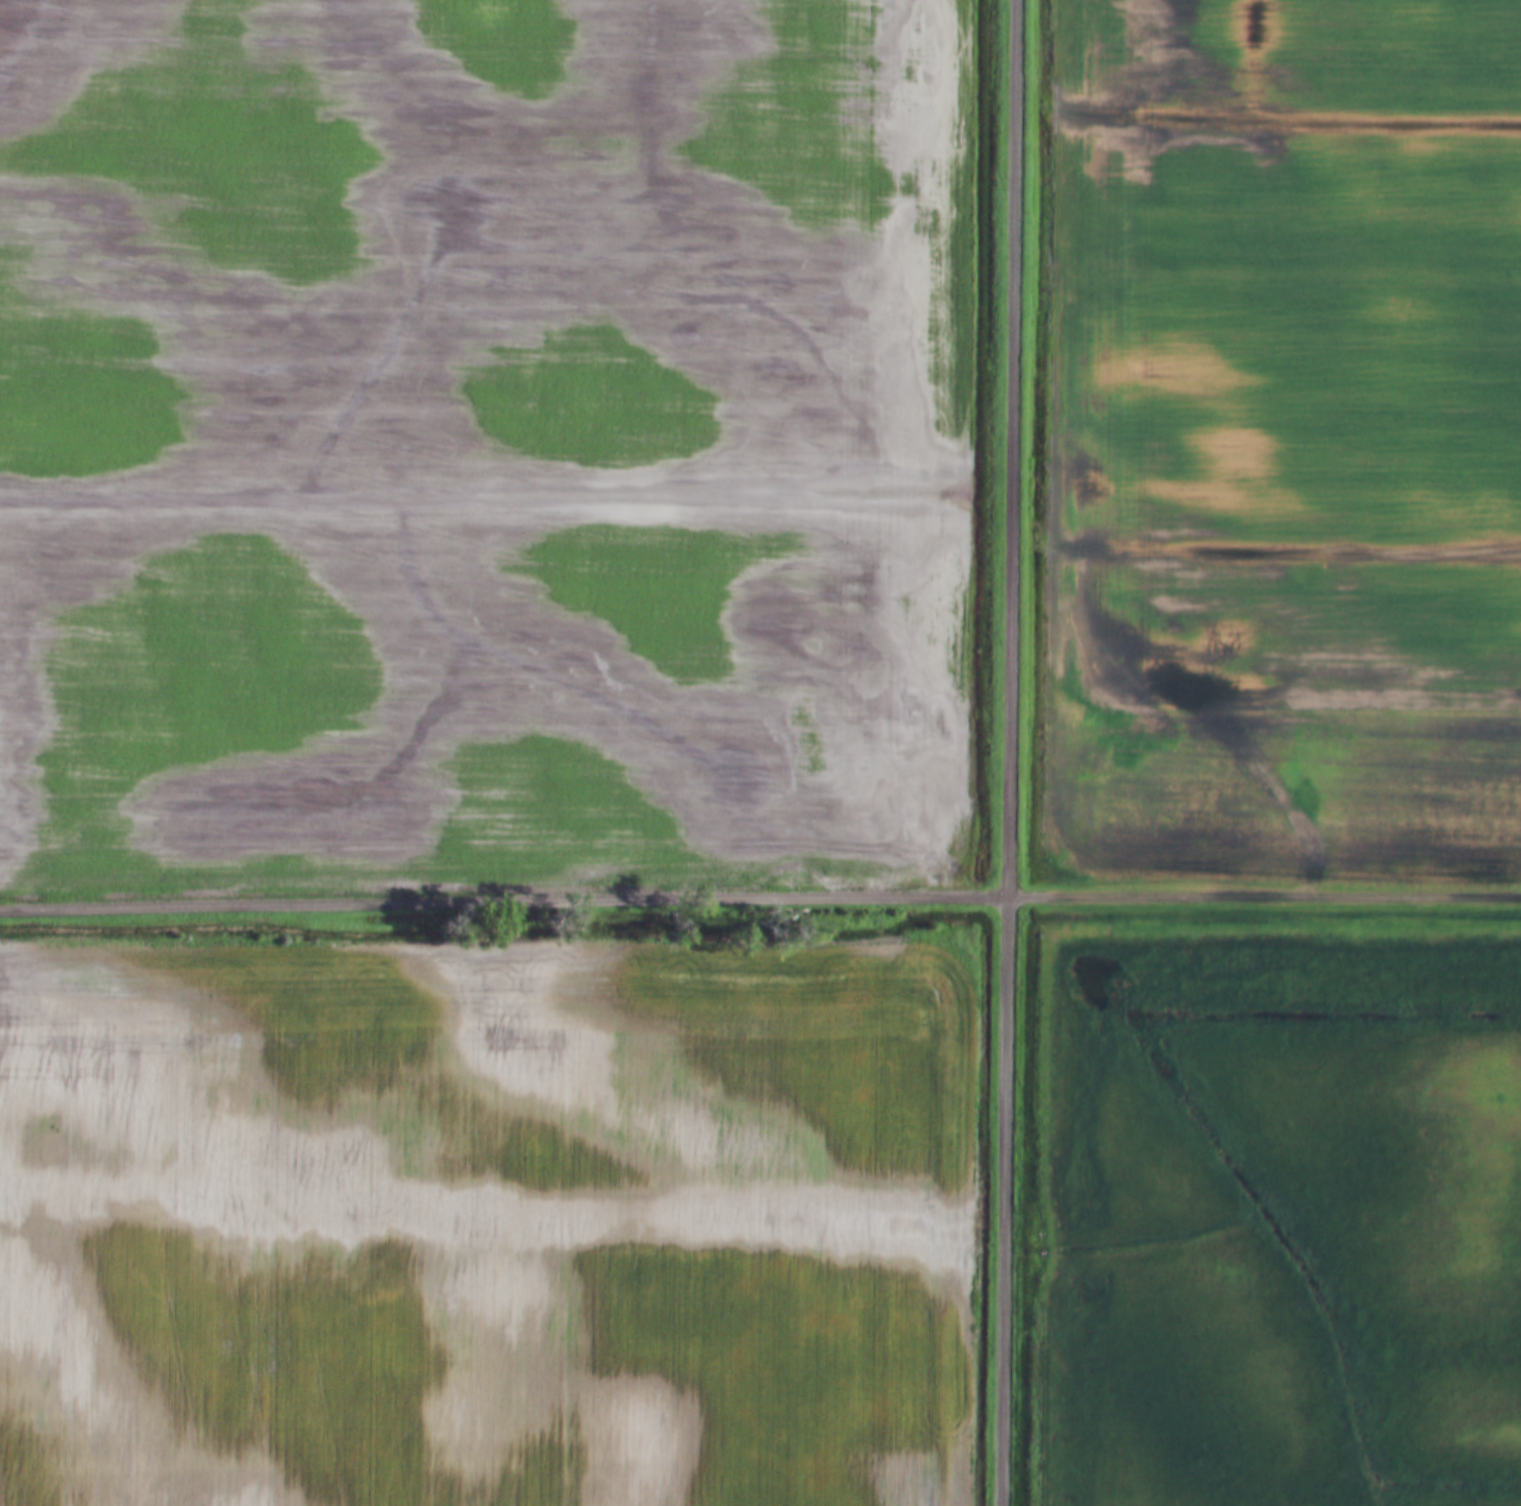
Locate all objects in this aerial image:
road: (1014, 753)
road: (760, 897)

